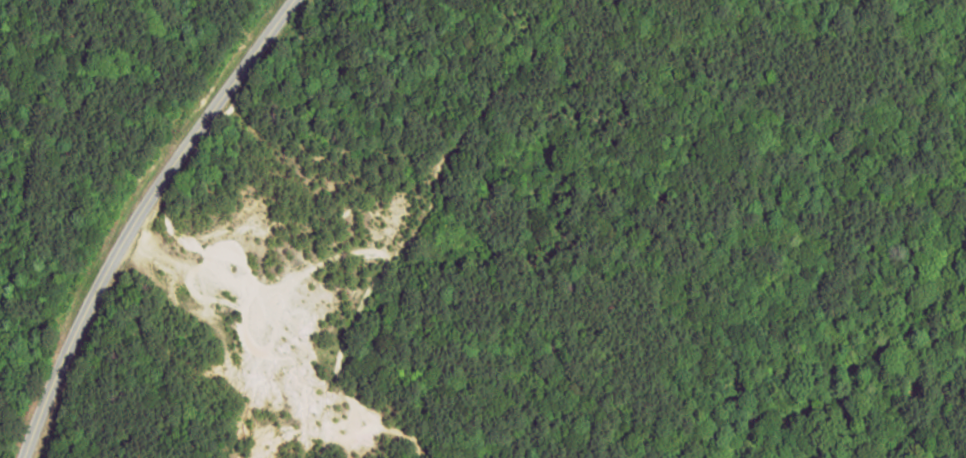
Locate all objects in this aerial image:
road: (136, 215)

